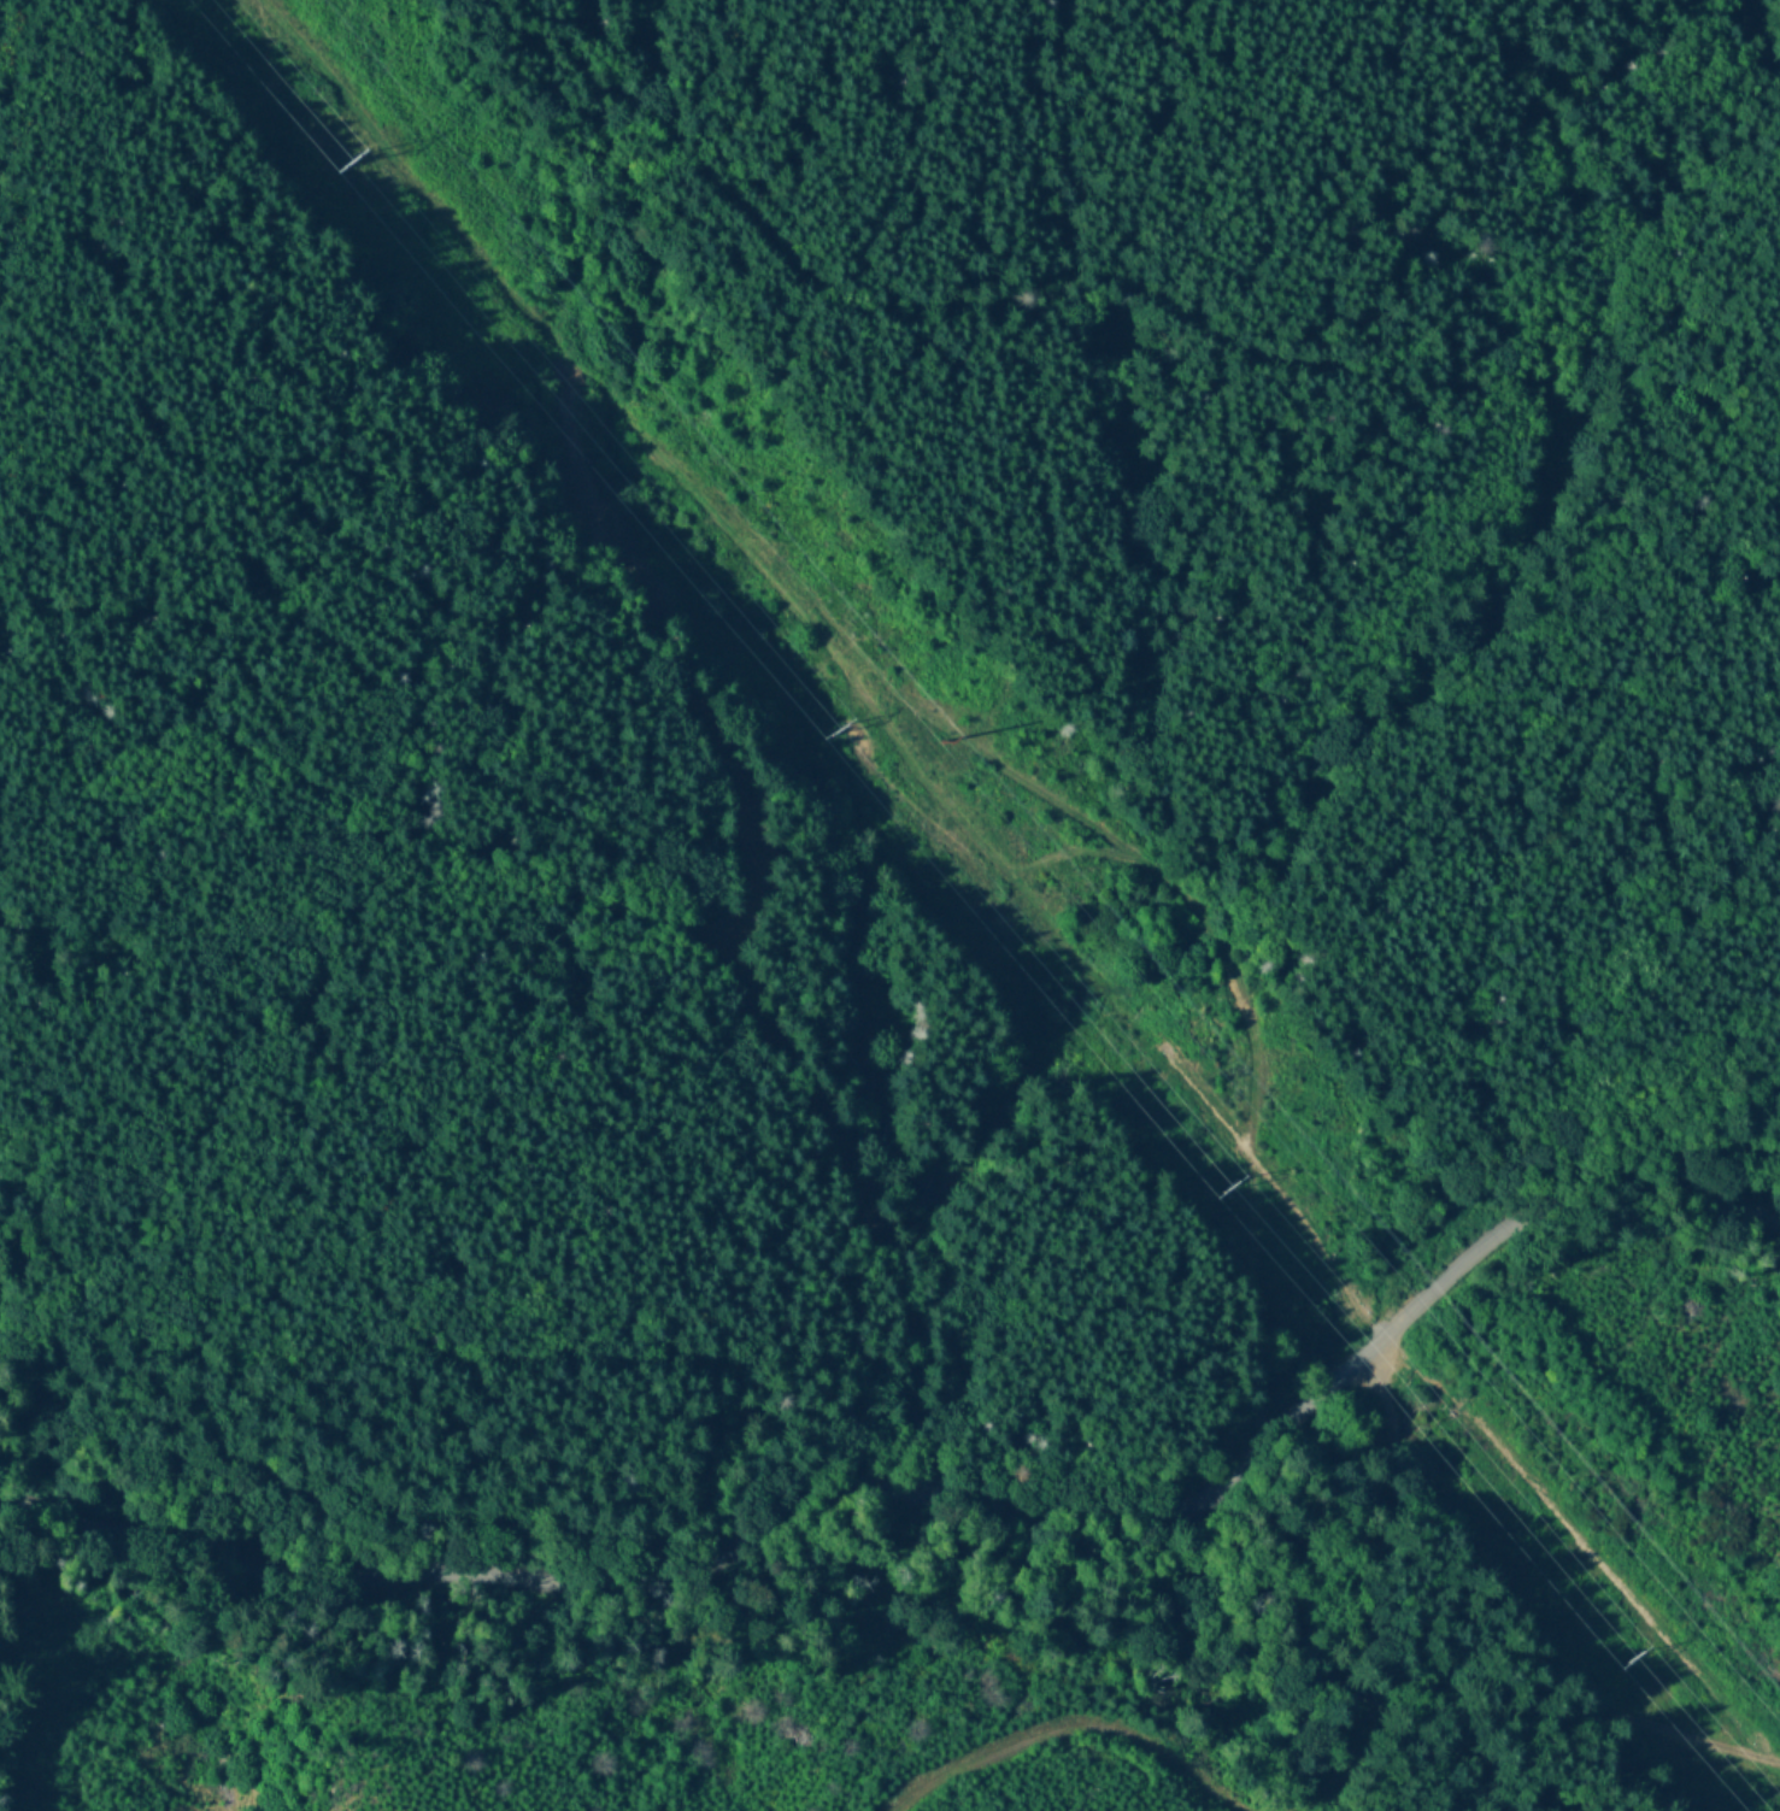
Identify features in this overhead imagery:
power tower: (348, 167)
power tower: (830, 724)
power tower: (947, 733)
power tower: (1229, 1190)
road: (952, 1533)
road: (1350, 1560)
power tower: (1634, 1658)
road: (101, 1706)
road: (1082, 1729)

